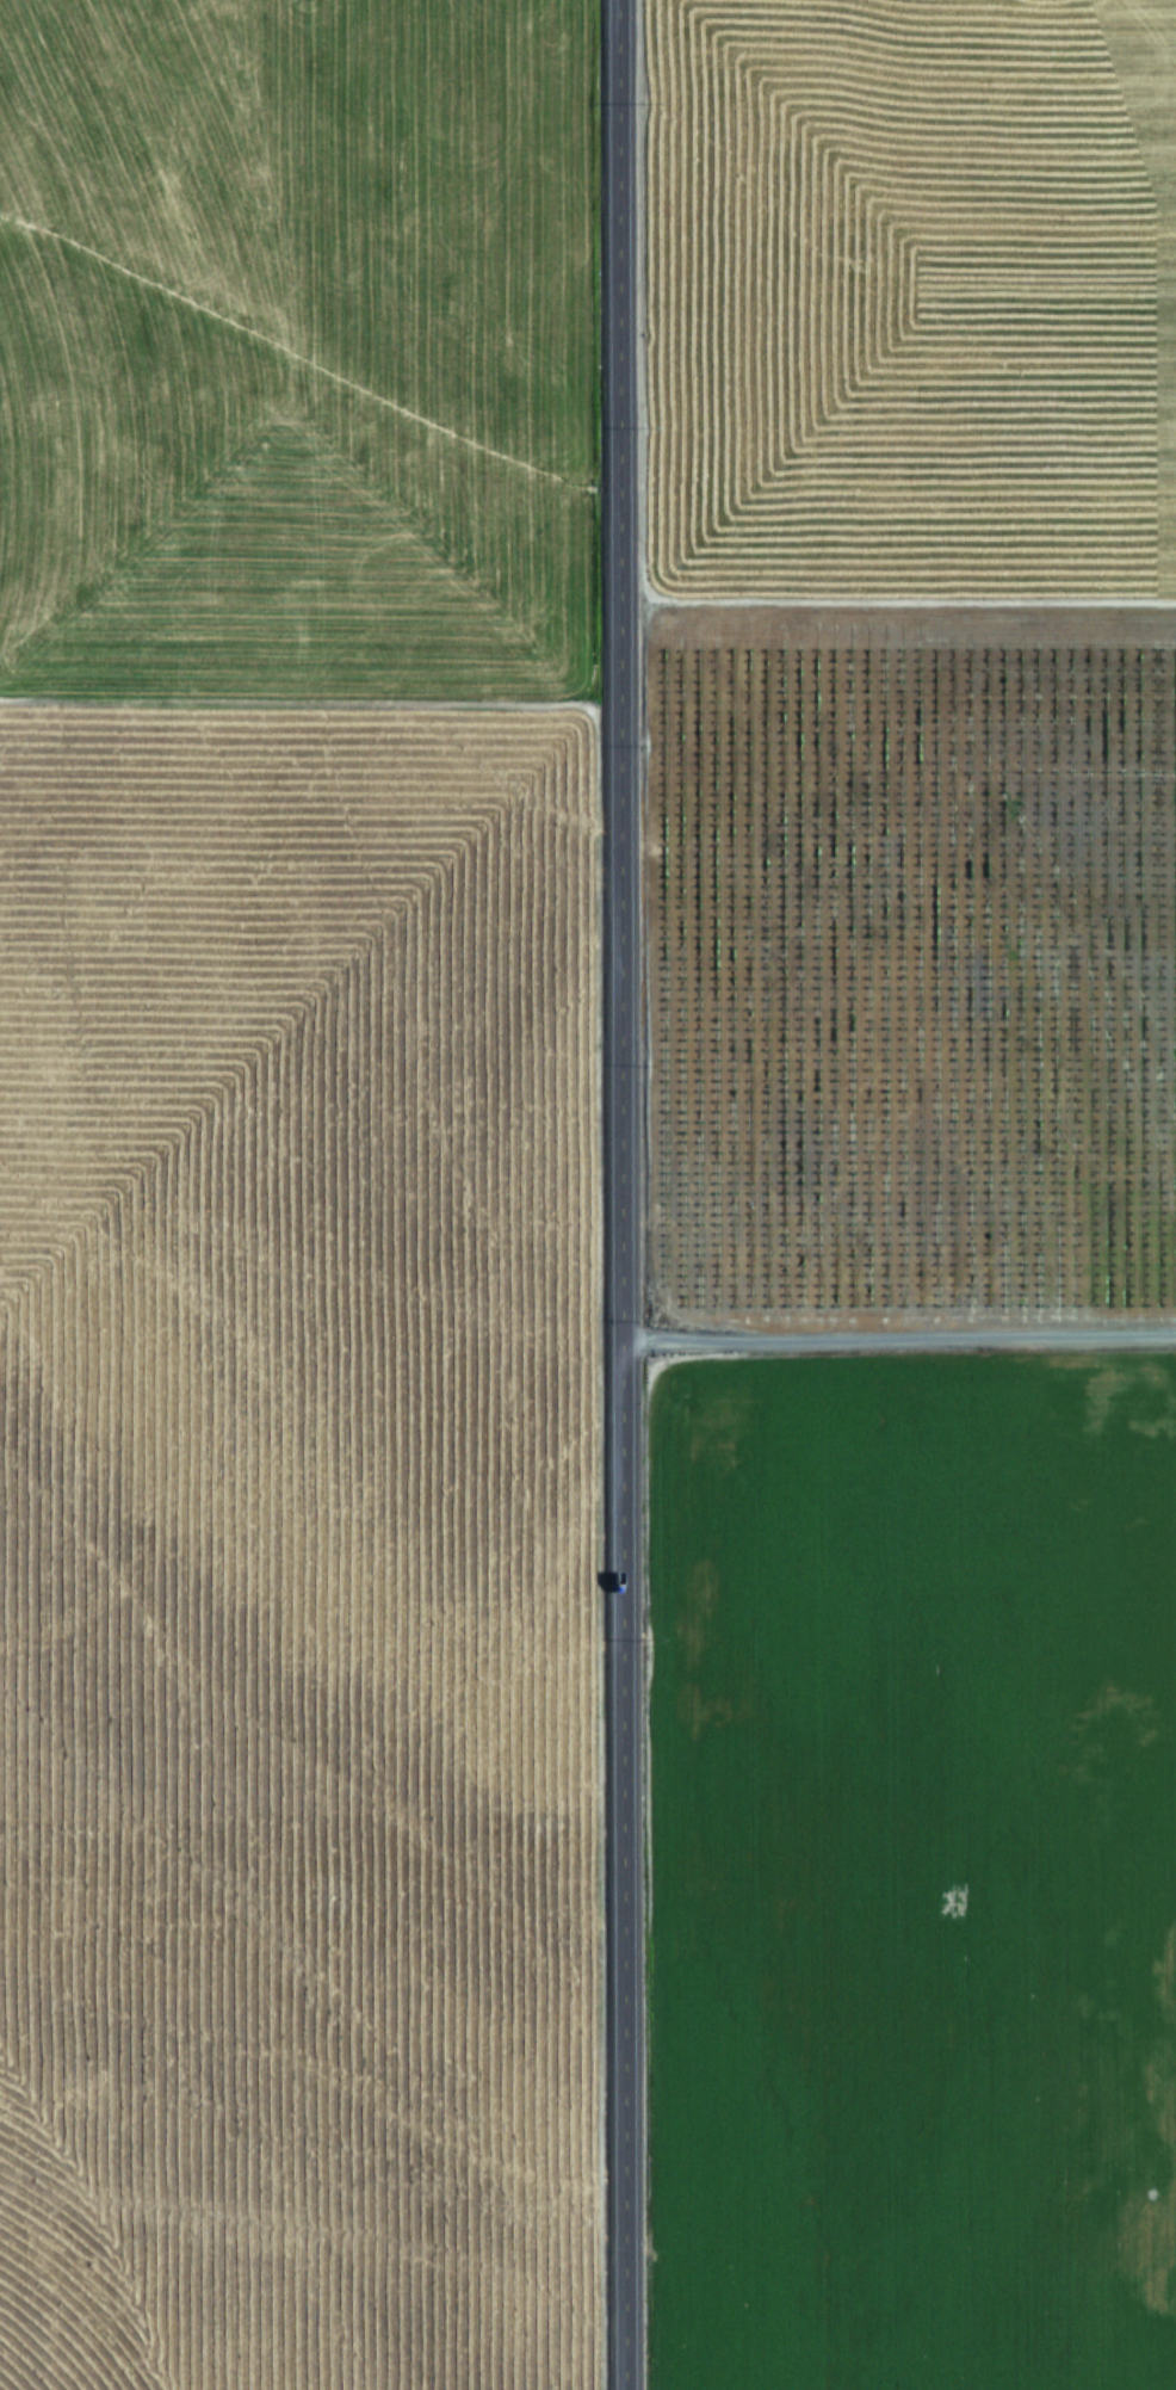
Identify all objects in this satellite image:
crop: (289, 1194)
road: (612, 1194)
crop: (909, 1194)
road: (895, 1341)

